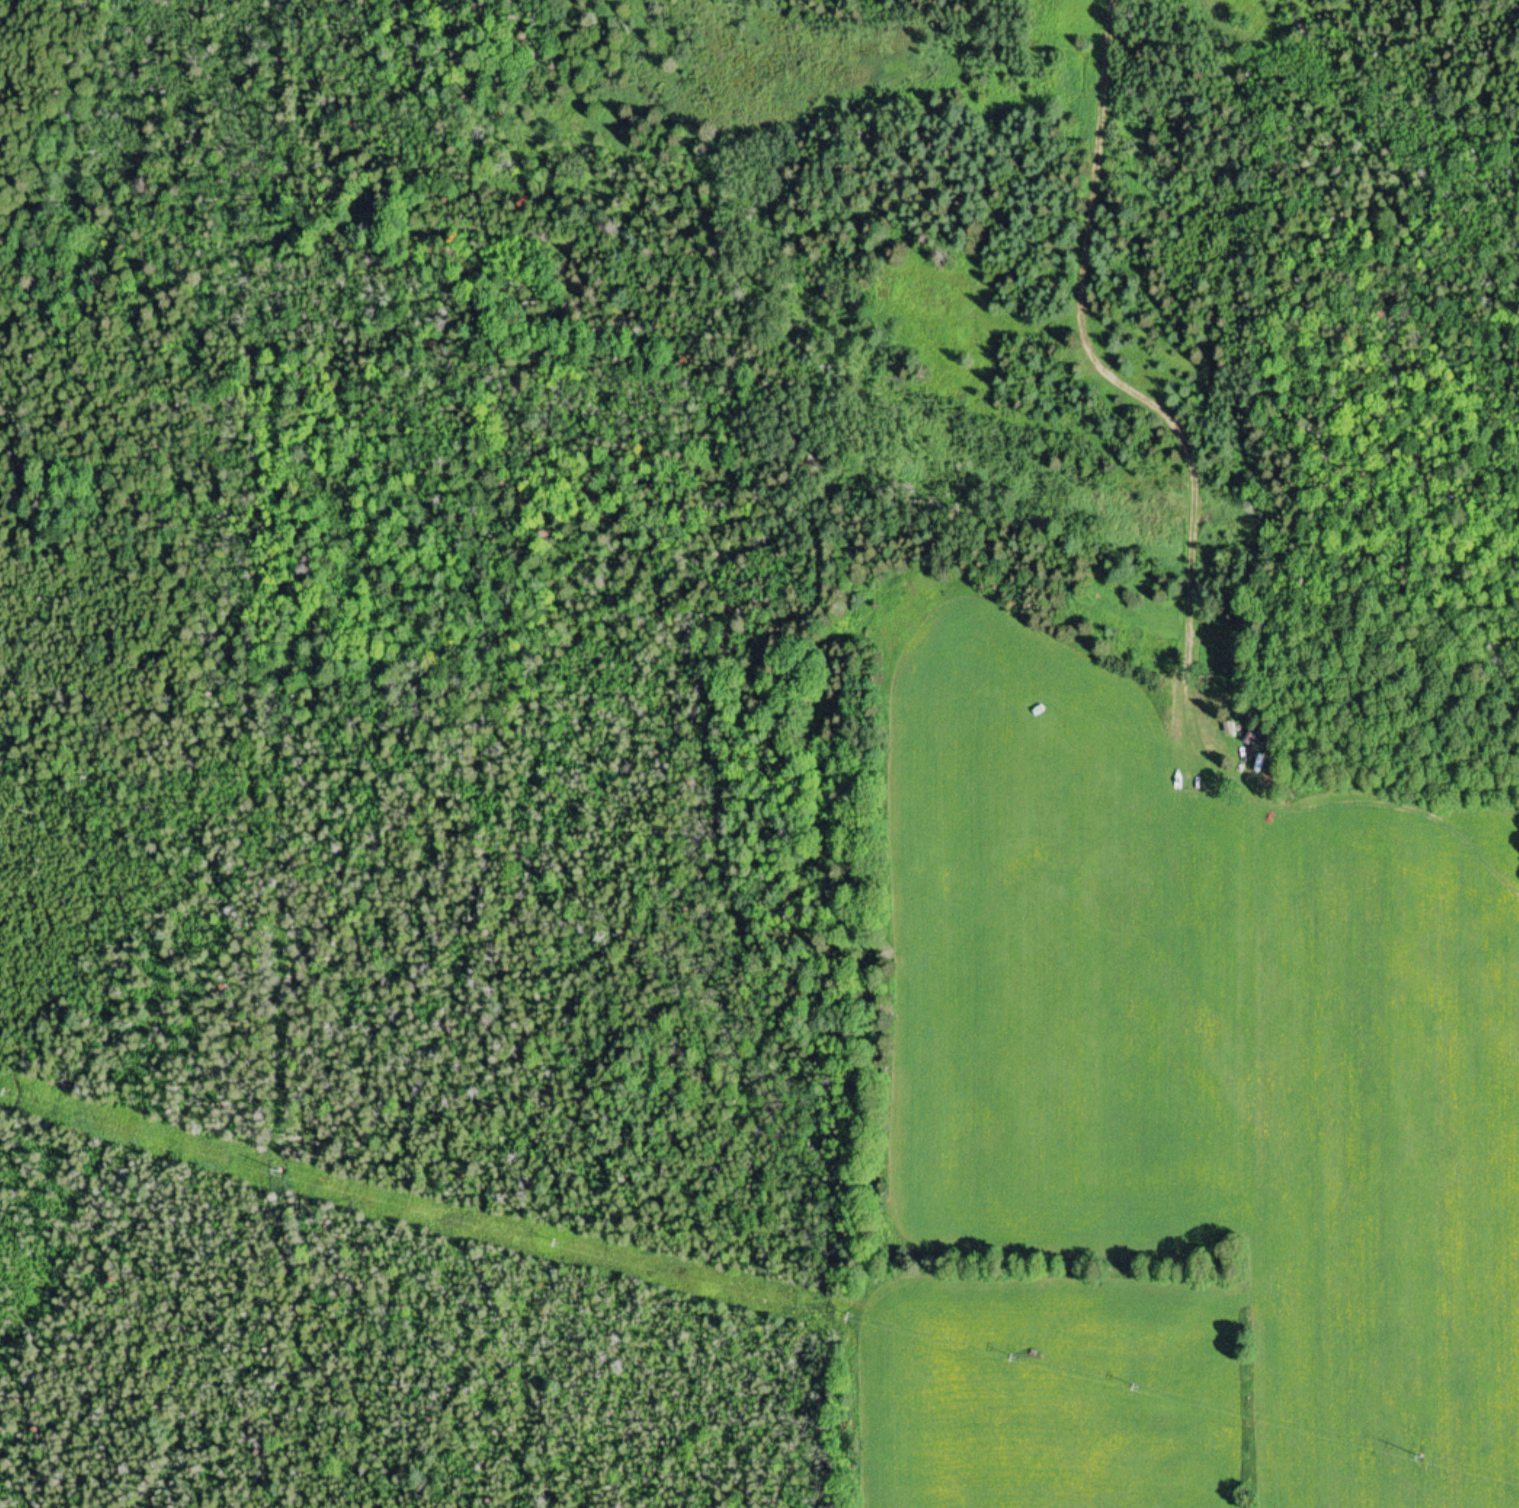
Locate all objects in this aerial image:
road: (1100, 367)

